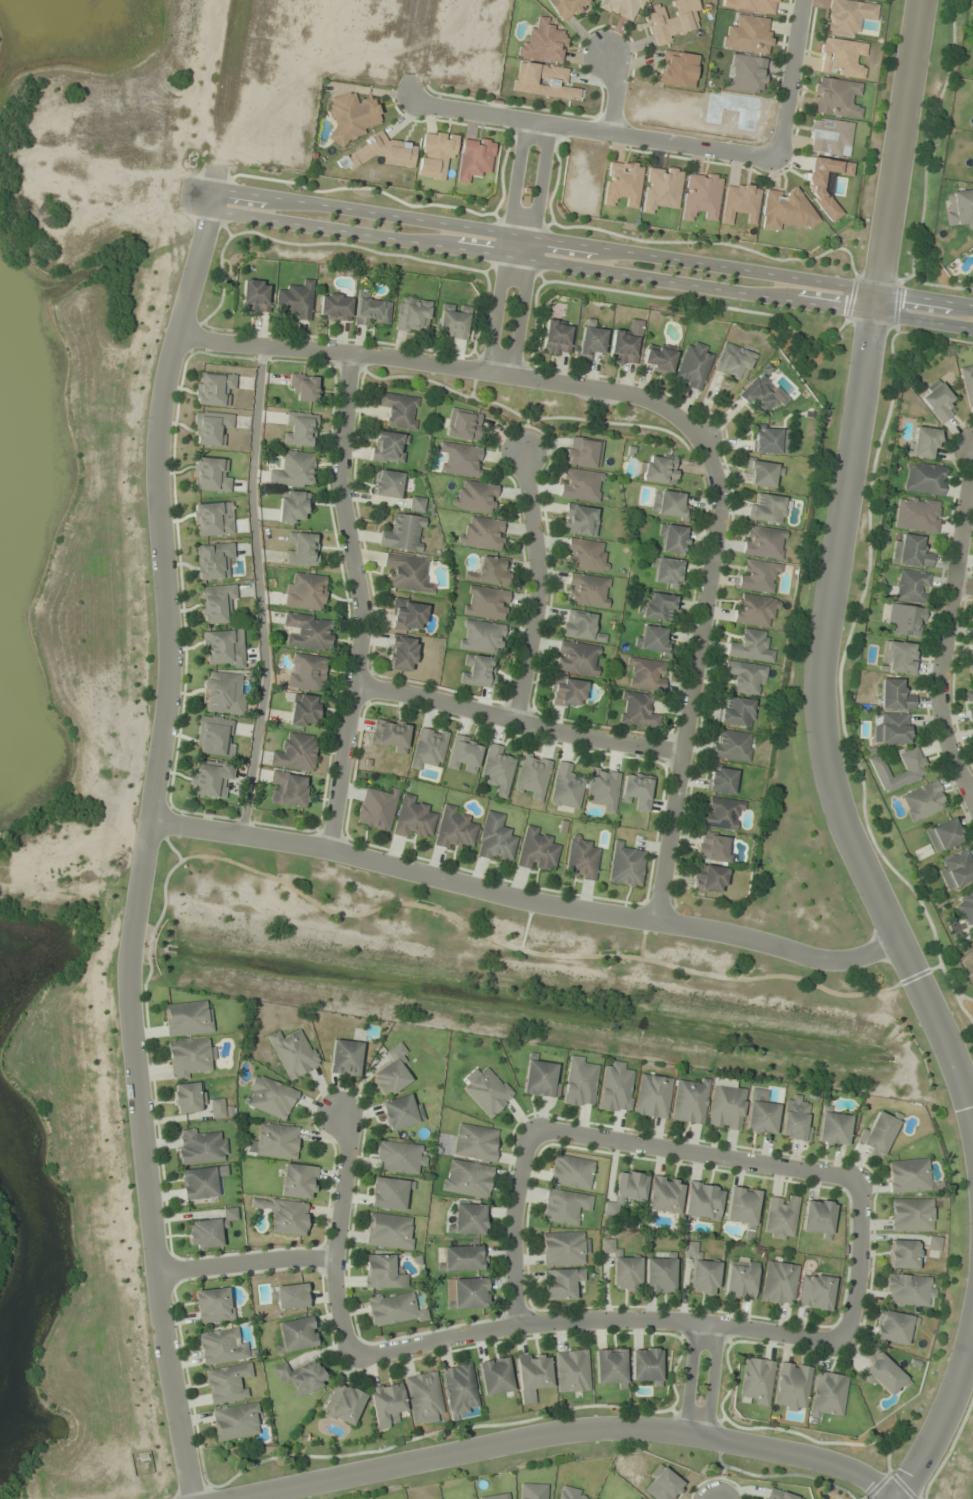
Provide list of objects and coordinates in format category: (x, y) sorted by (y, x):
building: (567, 8)
building: (656, 16)
building: (846, 16)
building: (544, 43)
building: (841, 57)
building: (676, 69)
building: (746, 73)
road: (787, 79)
building: (543, 81)
road: (614, 91)
building: (836, 97)
building: (352, 116)
road: (593, 129)
building: (828, 135)
building: (435, 156)
building: (474, 159)
building: (972, 170)
building: (622, 183)
building: (661, 188)
road: (194, 196)
building: (701, 196)
building: (740, 203)
building: (959, 208)
building: (785, 209)
road: (520, 235)
road: (591, 247)
road: (590, 270)
building: (254, 296)
building: (296, 300)
road: (508, 304)
building: (335, 307)
building: (372, 312)
building: (412, 315)
building: (453, 321)
building: (556, 338)
building: (589, 342)
building: (623, 347)
building: (657, 359)
road: (431, 361)
building: (733, 362)
building: (692, 365)
building: (967, 383)
building: (304, 387)
building: (214, 389)
building: (757, 394)
building: (937, 402)
building: (399, 410)
building: (463, 425)
building: (210, 427)
building: (299, 429)
building: (767, 441)
building: (923, 442)
building: (388, 447)
building: (582, 452)
building: (461, 459)
building: (658, 469)
building: (293, 470)
building: (762, 472)
building: (210, 474)
building: (924, 478)
building: (387, 484)
building: (580, 485)
building: (474, 498)
building: (416, 504)
building: (668, 504)
building: (293, 506)
building: (767, 508)
building: (916, 514)
building: (212, 519)
building: (579, 520)
building: (403, 533)
building: (482, 533)
building: (672, 539)
building: (762, 542)
building: (302, 549)
building: (911, 551)
building: (584, 555)
building: (212, 560)
building: (489, 572)
building: (665, 572)
building: (407, 573)
road: (832, 574)
building: (757, 576)
road: (962, 584)
building: (911, 586)
road: (537, 588)
building: (587, 590)
road: (257, 591)
building: (306, 593)
building: (216, 603)
road: (358, 603)
building: (485, 603)
building: (658, 607)
building: (753, 609)
building: (407, 615)
building: (904, 620)
road: (945, 625)
building: (580, 626)
building: (308, 631)
building: (480, 636)
building: (972, 637)
building: (652, 639)
building: (223, 646)
building: (750, 646)
building: (401, 653)
building: (898, 657)
building: (577, 658)
building: (970, 661)
road: (693, 665)
building: (477, 671)
building: (305, 672)
building: (646, 674)
building: (745, 677)
building: (566, 692)
building: (221, 693)
building: (894, 695)
building: (969, 703)
building: (302, 709)
building: (636, 710)
building: (736, 711)
road: (516, 720)
building: (890, 728)
building: (214, 735)
building: (388, 736)
building: (733, 746)
building: (428, 747)
building: (295, 752)
building: (463, 754)
building: (497, 770)
building: (913, 772)
building: (532, 775)
building: (210, 779)
building: (721, 780)
building: (565, 788)
building: (603, 788)
building: (288, 789)
building: (636, 791)
road: (971, 792)
building: (923, 801)
building: (394, 813)
building: (721, 813)
building: (453, 828)
road: (146, 829)
building: (943, 835)
building: (495, 839)
building: (713, 848)
building: (536, 850)
building: (580, 858)
building: (625, 865)
building: (957, 870)
building: (708, 879)
road: (522, 900)
building: (965, 907)
building: (187, 1018)
building: (293, 1053)
building: (191, 1057)
building: (345, 1057)
building: (391, 1072)
building: (540, 1079)
building: (579, 1082)
building: (615, 1088)
building: (486, 1091)
building: (652, 1096)
building: (271, 1097)
building: (188, 1098)
building: (689, 1100)
building: (725, 1105)
building: (220, 1109)
building: (401, 1112)
building: (761, 1117)
building: (794, 1119)
building: (833, 1128)
building: (878, 1133)
building: (275, 1141)
building: (475, 1142)
building: (201, 1147)
road: (695, 1152)
building: (398, 1157)
building: (570, 1171)
building: (908, 1175)
building: (466, 1178)
building: (298, 1181)
building: (198, 1183)
building: (626, 1191)
building: (388, 1193)
building: (664, 1195)
building: (702, 1201)
building: (563, 1206)
building: (742, 1206)
building: (284, 1214)
building: (911, 1214)
building: (780, 1217)
building: (817, 1217)
building: (468, 1218)
road: (513, 1227)
building: (209, 1230)
building: (389, 1231)
road: (335, 1235)
building: (606, 1245)
building: (565, 1248)
building: (903, 1254)
building: (463, 1258)
road: (244, 1261)
building: (815, 1263)
road: (857, 1263)
building: (381, 1272)
building: (701, 1272)
building: (626, 1273)
building: (660, 1274)
building: (741, 1279)
building: (560, 1283)
building: (779, 1283)
building: (906, 1290)
building: (815, 1292)
building: (466, 1293)
building: (289, 1296)
building: (212, 1305)
building: (393, 1309)
road: (597, 1320)
building: (892, 1327)
building: (296, 1334)
building: (221, 1346)
building: (646, 1364)
building: (610, 1367)
building: (572, 1371)
building: (532, 1375)
building: (883, 1375)
building: (301, 1376)
building: (495, 1376)
road: (690, 1378)
road: (712, 1381)
building: (756, 1381)
building: (227, 1383)
building: (791, 1387)
building: (459, 1389)
building: (828, 1395)
building: (423, 1396)
building: (385, 1403)
building: (343, 1404)
building: (236, 1421)
road: (939, 1424)
road: (566, 1436)
building: (662, 1484)
building: (532, 1491)
building: (571, 1493)
building: (780, 1495)
building: (504, 1498)
building: (637, 1498)

